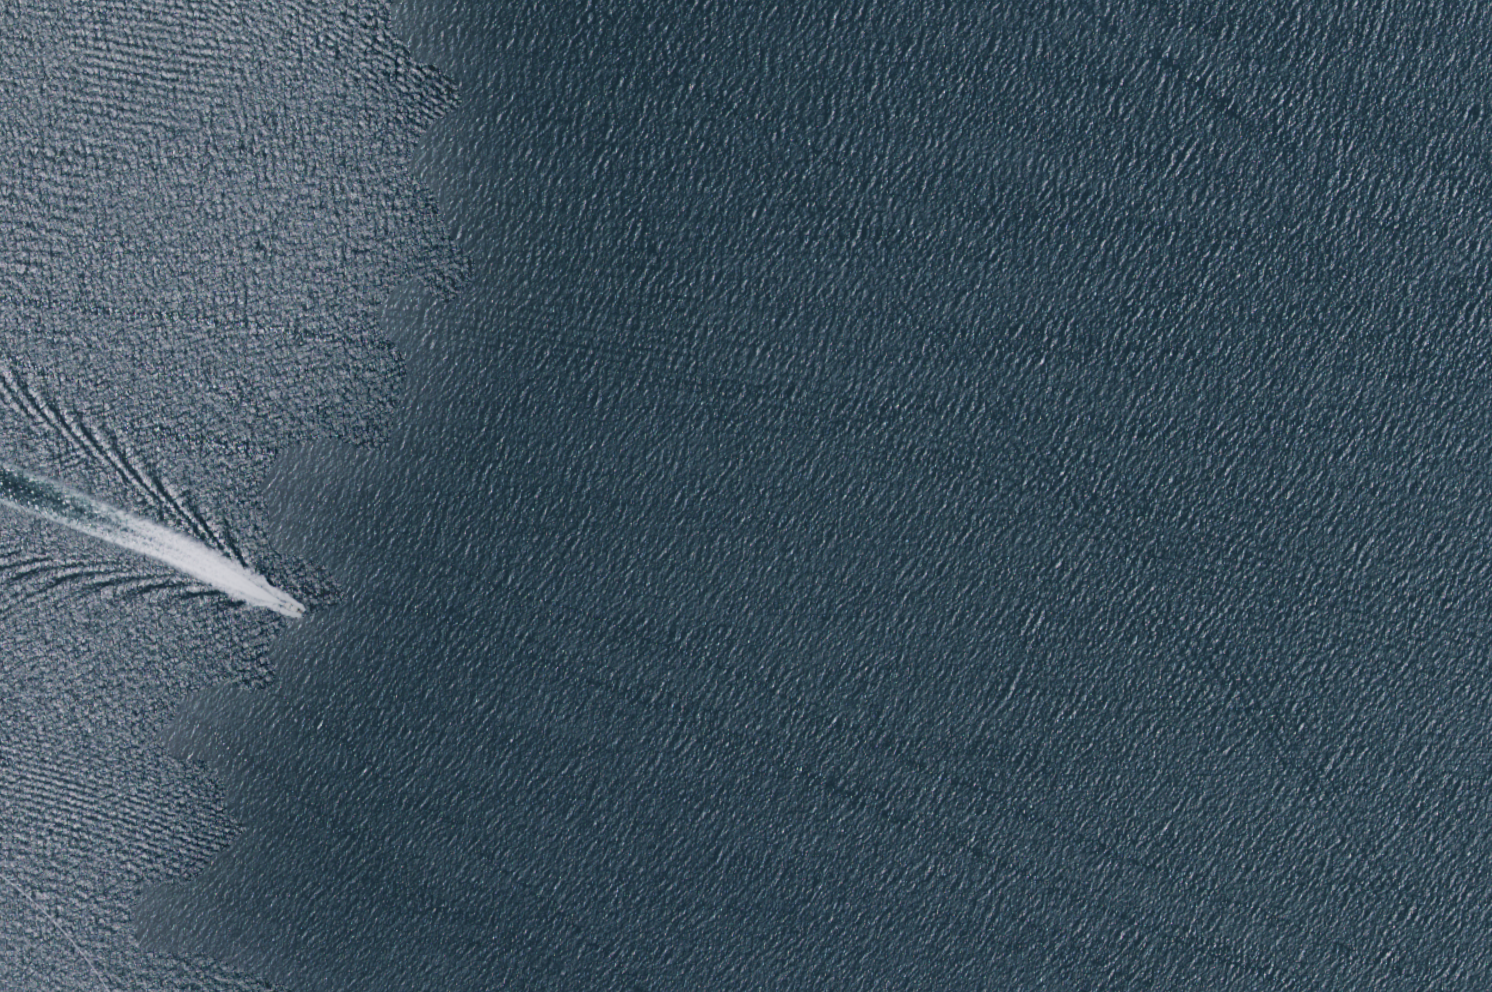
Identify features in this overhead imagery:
airport: (20, 976)

